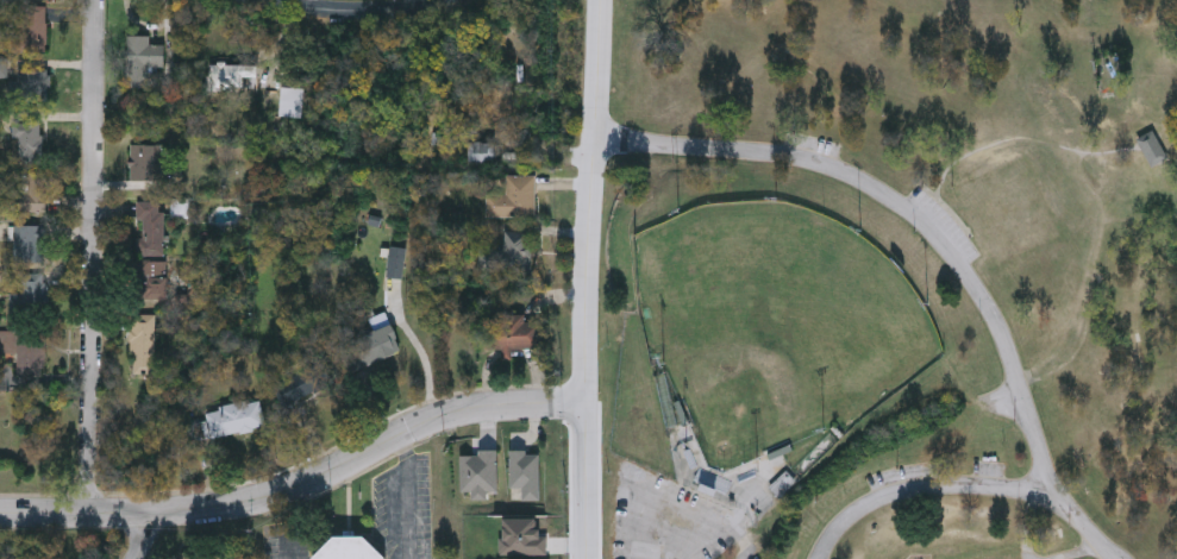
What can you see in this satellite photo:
building: (32, 0)
road: (337, 10)
building: (31, 29)
building: (142, 57)
building: (33, 84)
building: (29, 140)
road: (1023, 140)
parking lot: (813, 145)
building: (481, 151)
building: (1152, 151)
building: (145, 162)
building: (35, 190)
building: (513, 197)
road: (902, 209)
building: (151, 226)
parking lot: (944, 226)
building: (29, 243)
building: (509, 255)
road: (96, 257)
building: (394, 262)
road: (586, 278)
building: (155, 279)
park: (888, 279)
building: (33, 293)
park: (777, 327)
building: (512, 333)
building: (143, 344)
building: (371, 344)
building: (24, 347)
road: (427, 365)
building: (303, 383)
building: (227, 417)
building: (525, 477)
building: (783, 485)
road: (299, 489)
road: (921, 490)
road: (411, 498)
parking lot: (668, 520)
road: (293, 525)
road: (1083, 526)
road: (137, 536)
building: (349, 548)
road: (746, 548)
building: (193, 553)
building: (1015, 557)
building: (2, 558)

